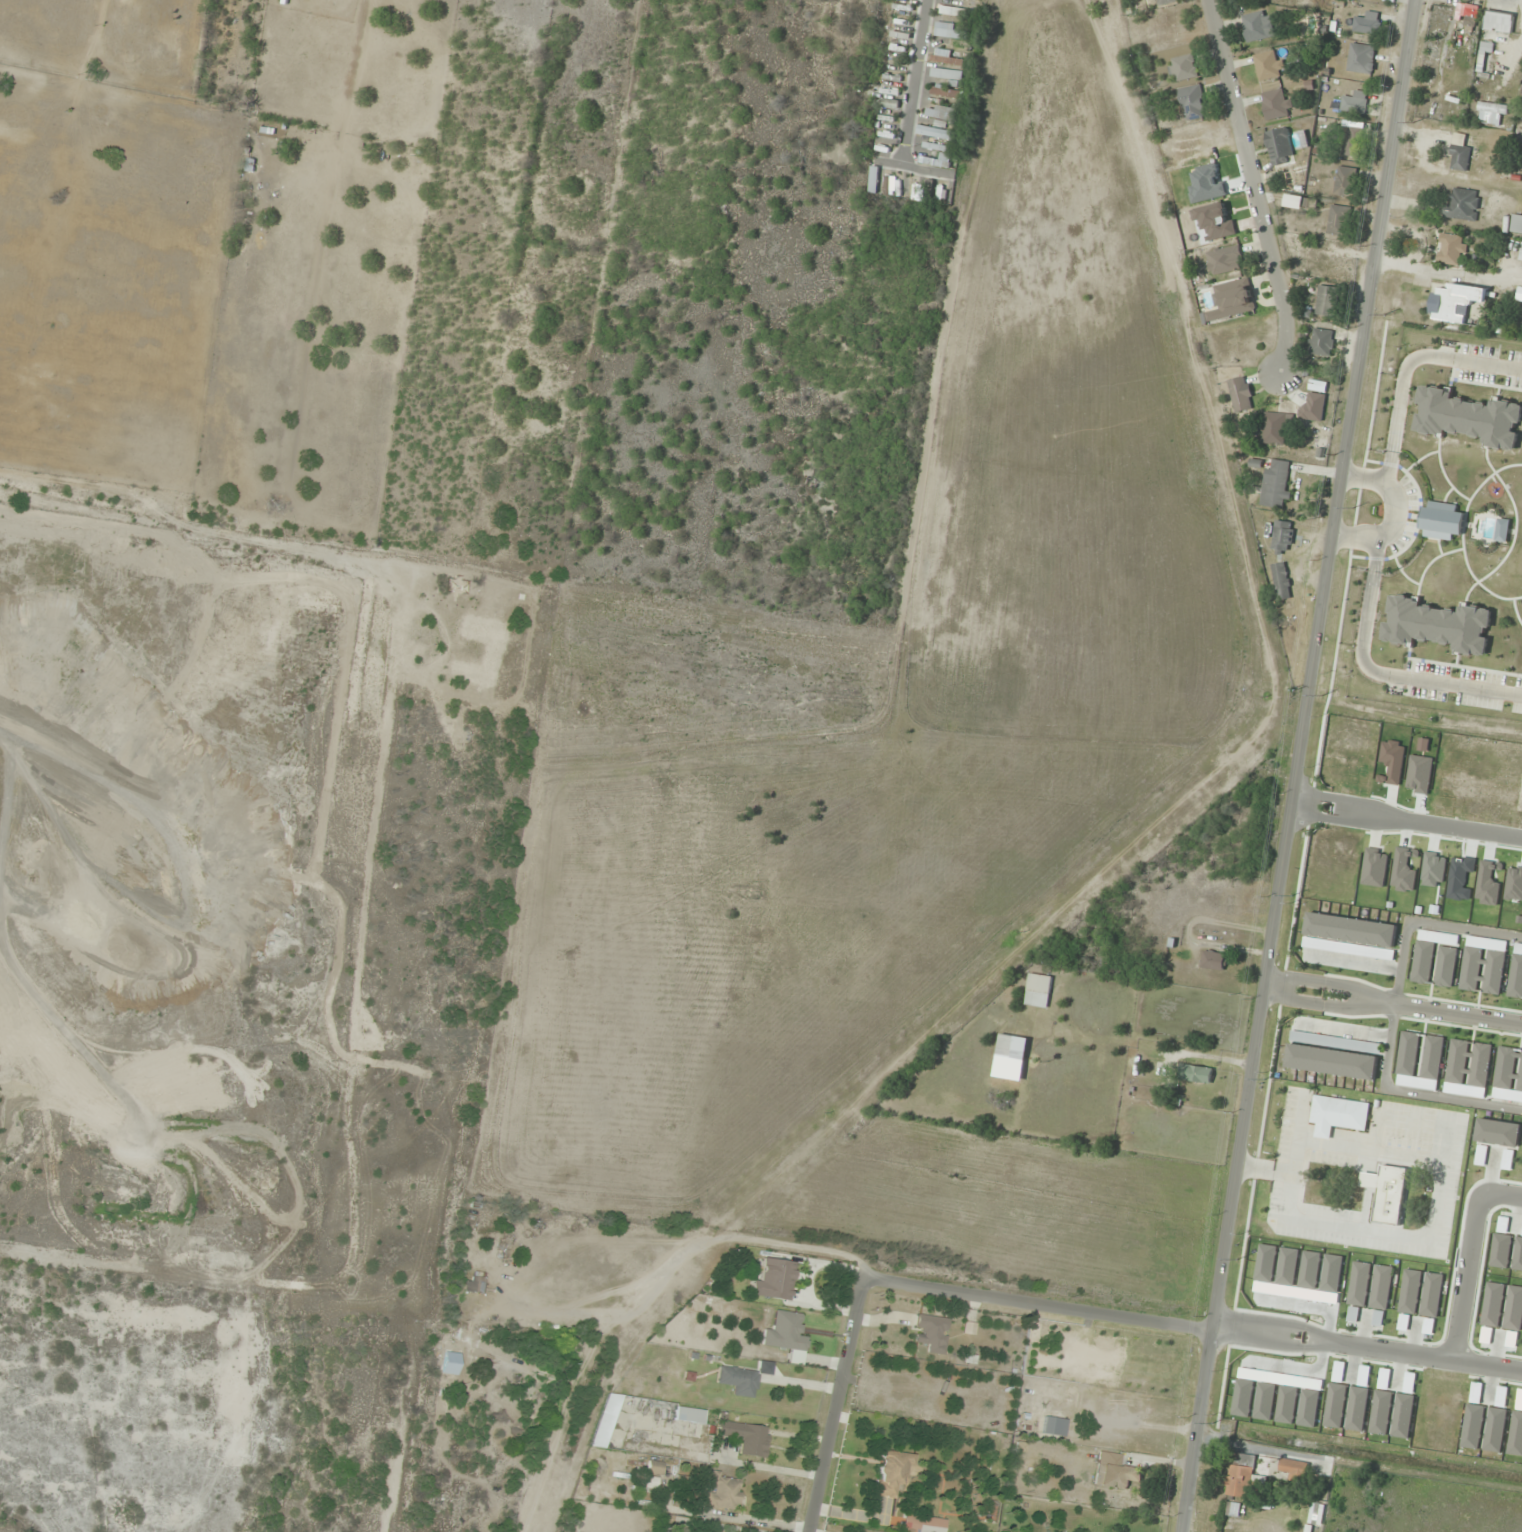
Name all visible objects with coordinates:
building: (1167, 2)
building: (954, 12)
building: (903, 21)
building: (1499, 21)
building: (1366, 22)
building: (1257, 26)
building: (951, 34)
building: (1361, 59)
building: (947, 65)
building: (1268, 66)
building: (1182, 68)
building: (894, 75)
road: (913, 85)
building: (944, 92)
building: (1355, 102)
building: (1192, 103)
building: (1276, 104)
building: (945, 114)
building: (1492, 114)
building: (885, 125)
building: (932, 132)
building: (1350, 139)
building: (1279, 146)
building: (1459, 158)
building: (936, 161)
building: (1345, 182)
road: (1254, 186)
building: (935, 191)
building: (1462, 205)
building: (1338, 220)
building: (1516, 224)
building: (1452, 250)
building: (1520, 253)
building: (1226, 260)
building: (1232, 301)
building: (1325, 301)
building: (1449, 306)
building: (1322, 342)
building: (1241, 394)
building: (1313, 407)
building: (1275, 428)
building: (1275, 485)
building: (1283, 537)
building: (1281, 581)
building: (1356, 744)
road: (1299, 766)
building: (1398, 769)
road: (1407, 823)
building: (1213, 961)
building: (1037, 991)
road: (1393, 1005)
road: (1396, 1017)
building: (1012, 1048)
building: (1195, 1073)
building: (1338, 1116)
road: (1293, 1163)
road: (1435, 1223)
road: (1467, 1259)
building: (774, 1280)
building: (475, 1283)
road: (910, 1286)
road: (638, 1295)
building: (785, 1332)
building: (932, 1333)
road: (1367, 1348)
building: (451, 1362)
building: (1411, 1369)
building: (739, 1379)
building: (689, 1415)
building: (606, 1420)
building: (745, 1435)
building: (654, 1467)
building: (1293, 1469)
building: (1115, 1471)
building: (892, 1474)
building: (1244, 1477)
building: (723, 1491)
building: (1316, 1515)
building: (926, 1522)

